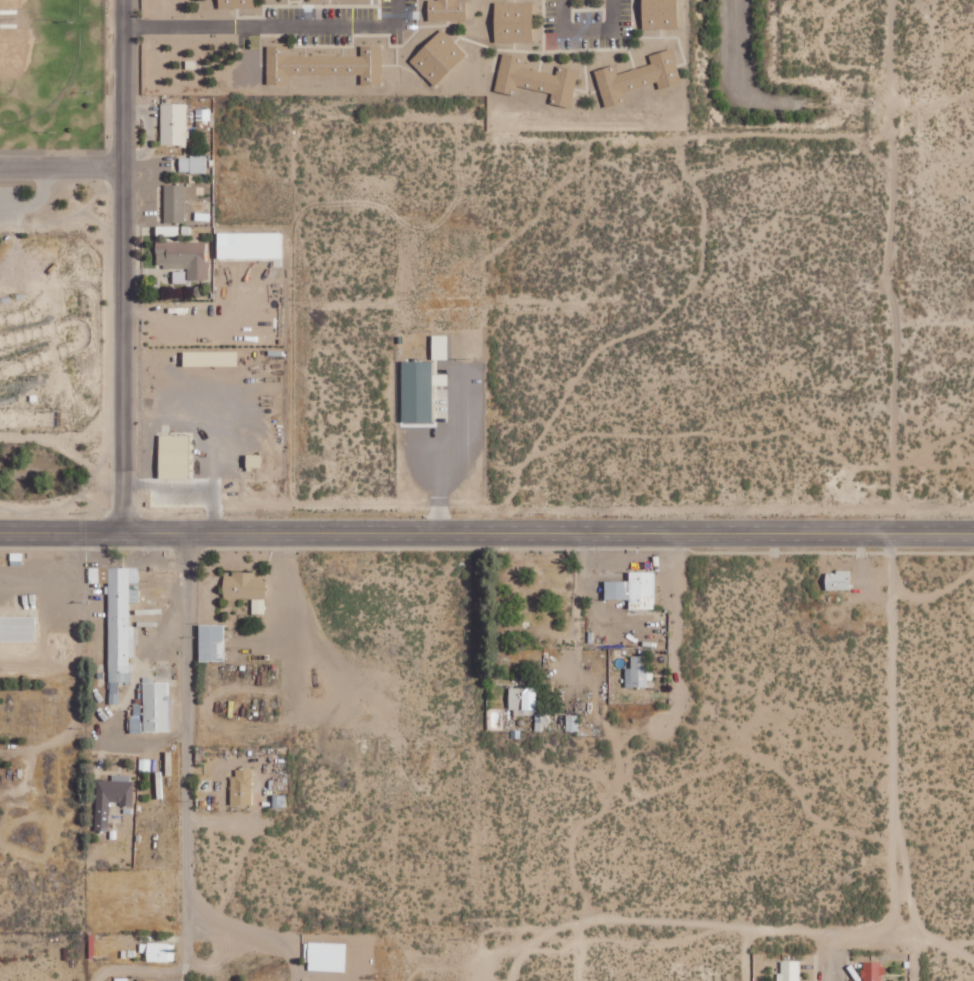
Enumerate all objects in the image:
building: (354, 1)
building: (231, 3)
building: (447, 10)
building: (660, 14)
building: (513, 21)
building: (438, 56)
building: (324, 64)
building: (638, 77)
building: (538, 79)
building: (173, 124)
building: (192, 164)
road: (60, 167)
building: (174, 203)
building: (183, 257)
road: (122, 265)
road: (249, 308)
building: (439, 347)
building: (210, 358)
building: (419, 390)
building: (174, 456)
road: (486, 535)
building: (838, 579)
building: (243, 585)
building: (634, 589)
building: (258, 605)
building: (118, 621)
building: (17, 628)
building: (211, 642)
building: (638, 671)
building: (523, 698)
building: (153, 708)
building: (572, 722)
road: (191, 756)
building: (242, 786)
building: (111, 797)
road: (256, 934)
building: (158, 951)
building: (325, 956)
road: (830, 962)
road: (914, 965)
road: (142, 969)
building: (873, 970)
building: (789, 971)
building: (146, 979)

